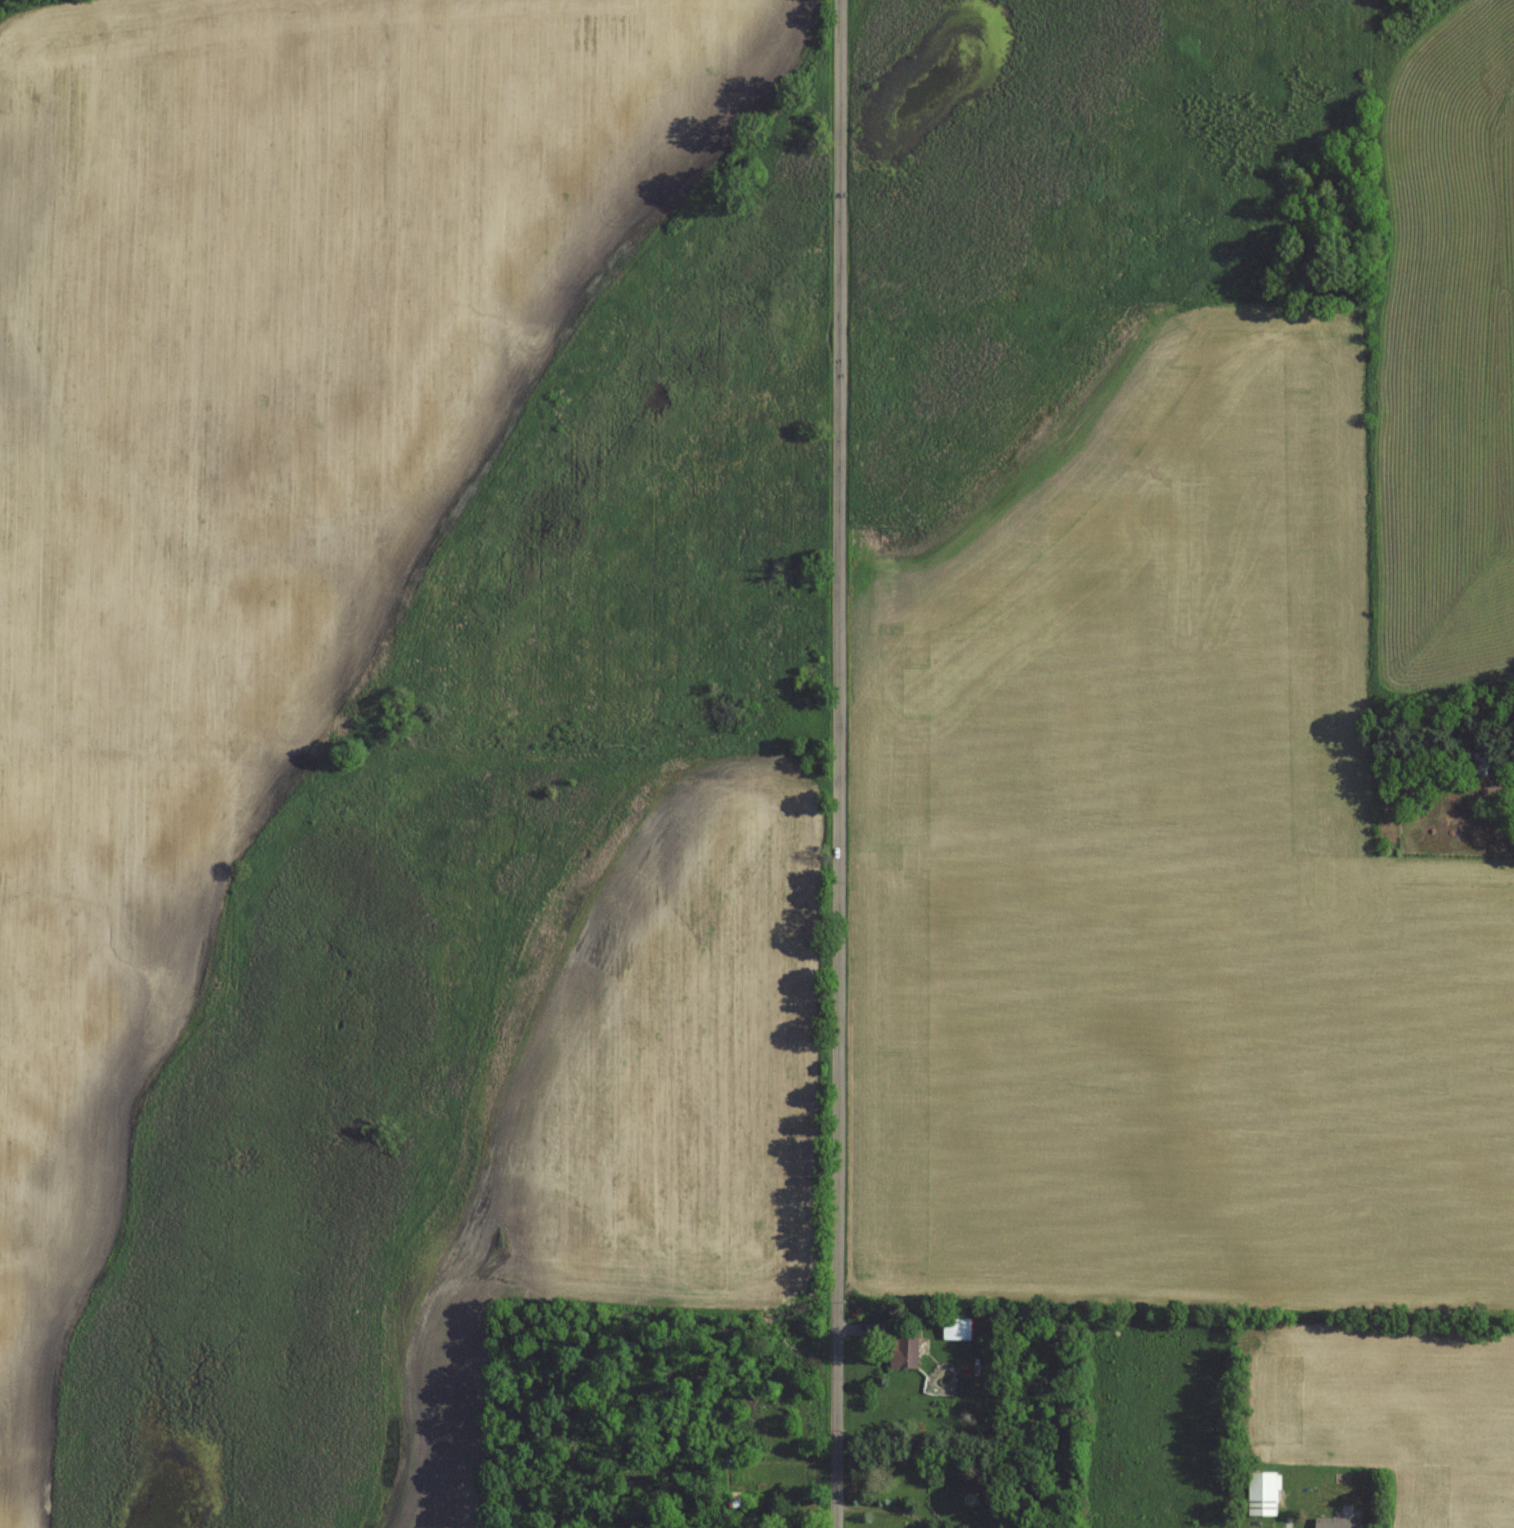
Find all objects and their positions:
building: (1480, 762)
road: (840, 764)
building: (958, 1328)
building: (902, 1343)
building: (737, 1457)
building: (1264, 1493)
building: (730, 1499)
road: (884, 1506)
building: (1339, 1523)

